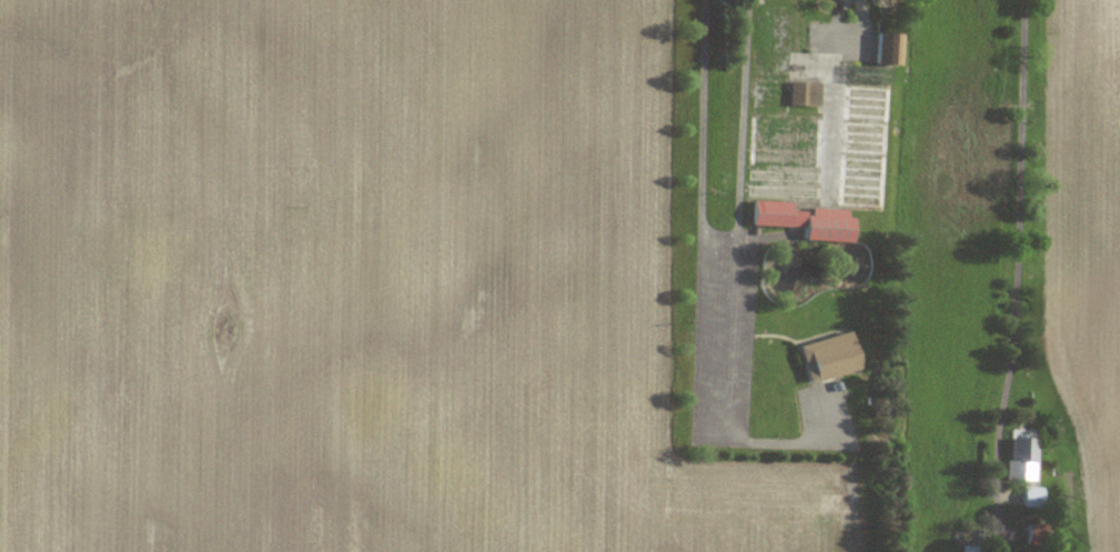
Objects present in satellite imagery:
road: (860, 23)
building: (889, 49)
building: (803, 93)
road: (741, 132)
building: (804, 220)
road: (1018, 245)
road: (703, 274)
building: (828, 357)

